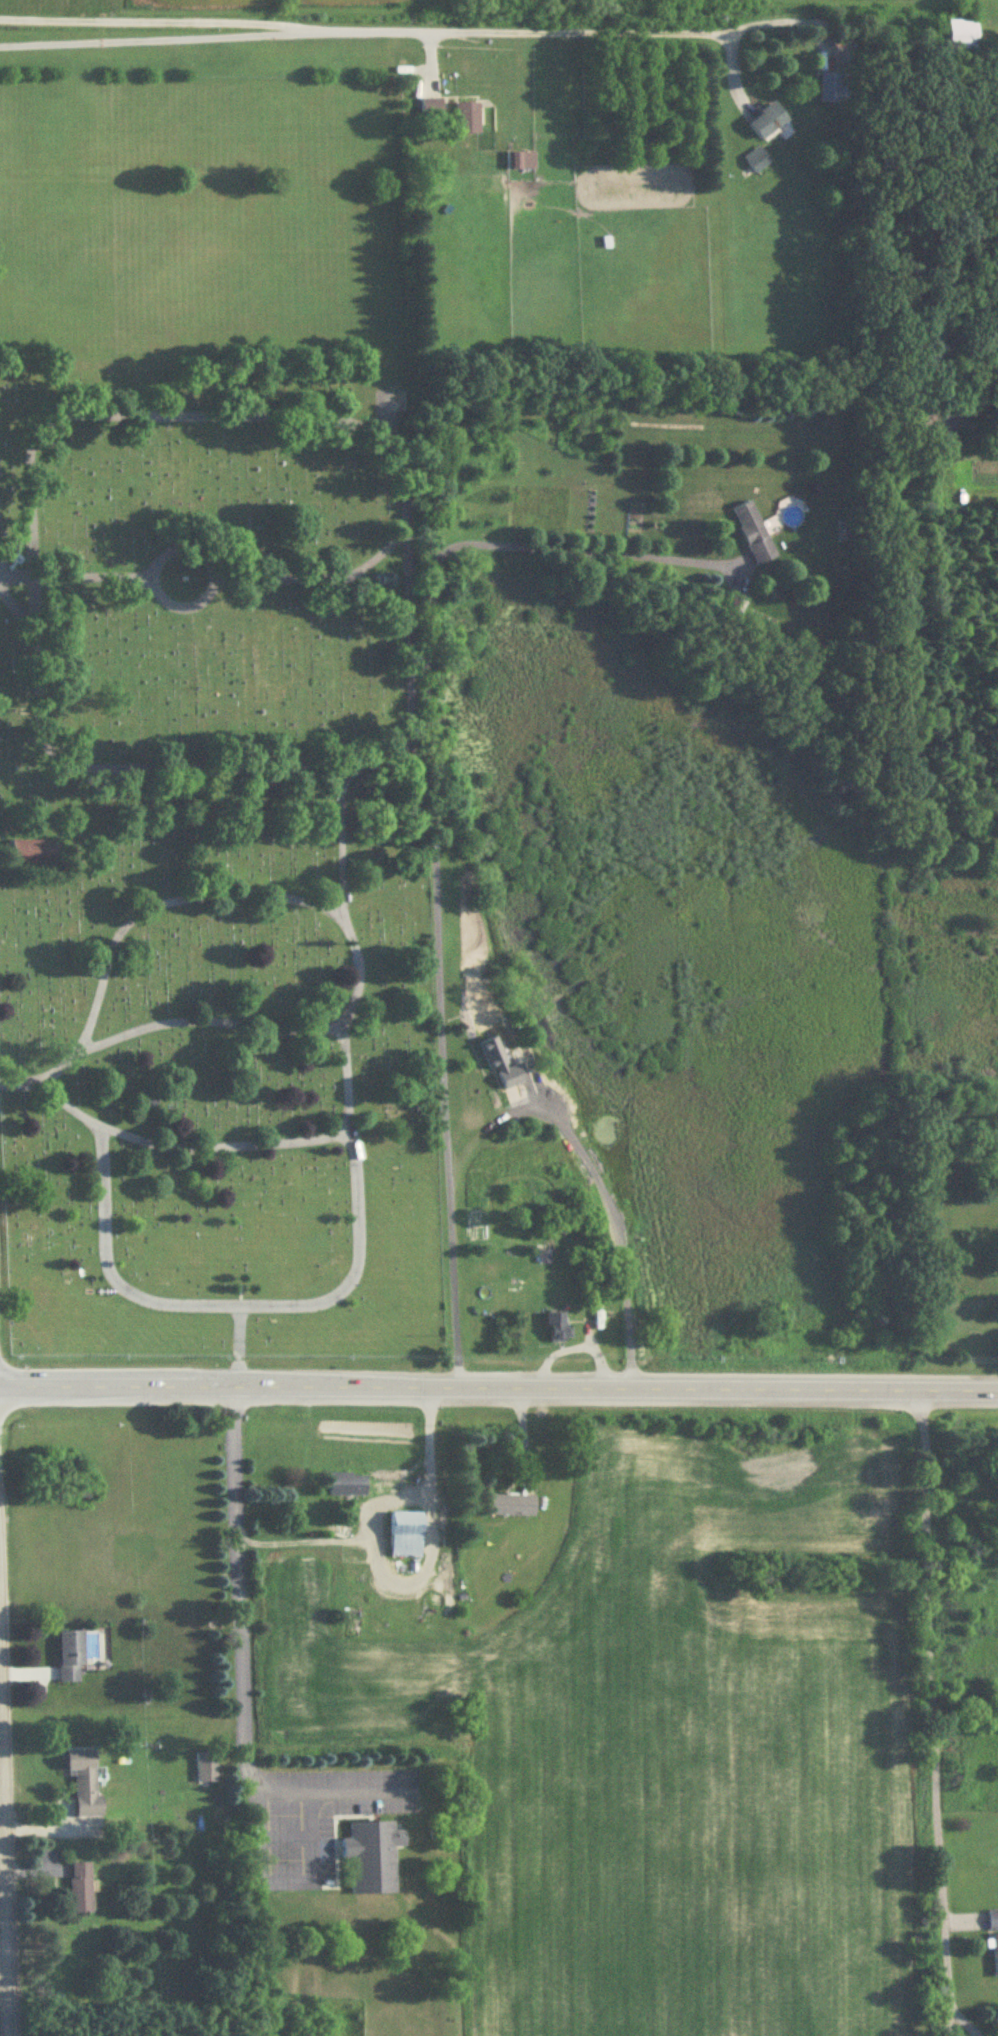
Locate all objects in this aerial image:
road: (168, 21)
road: (557, 32)
building: (962, 35)
road: (168, 40)
building: (830, 89)
building: (467, 119)
building: (768, 121)
building: (756, 159)
building: (520, 161)
building: (937, 346)
road: (970, 410)
road: (72, 441)
building: (753, 533)
road: (566, 549)
road: (234, 564)
road: (53, 573)
road: (322, 575)
building: (388, 581)
road: (370, 601)
park: (214, 724)
building: (33, 851)
road: (160, 900)
road: (442, 983)
road: (291, 1030)
building: (501, 1064)
road: (182, 1151)
road: (614, 1227)
road: (289, 1307)
building: (558, 1328)
road: (237, 1345)
road: (498, 1383)
building: (348, 1485)
road: (374, 1505)
building: (512, 1506)
building: (406, 1535)
building: (71, 1656)
road: (933, 1712)
road: (246, 1729)
building: (207, 1767)
building: (85, 1781)
building: (373, 1857)
road: (1, 1865)
building: (81, 1888)
road: (4, 1906)
building: (993, 1921)
road: (3, 1947)
building: (995, 1955)

